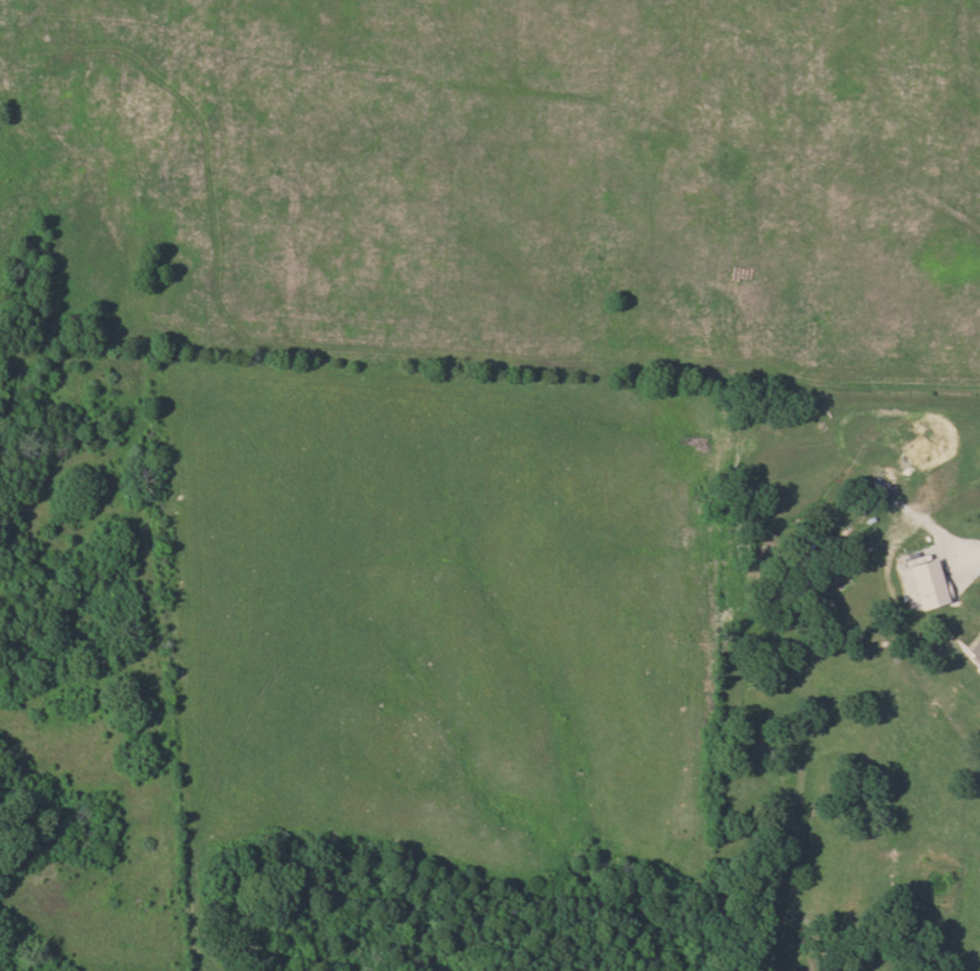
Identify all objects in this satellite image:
road: (965, 560)

